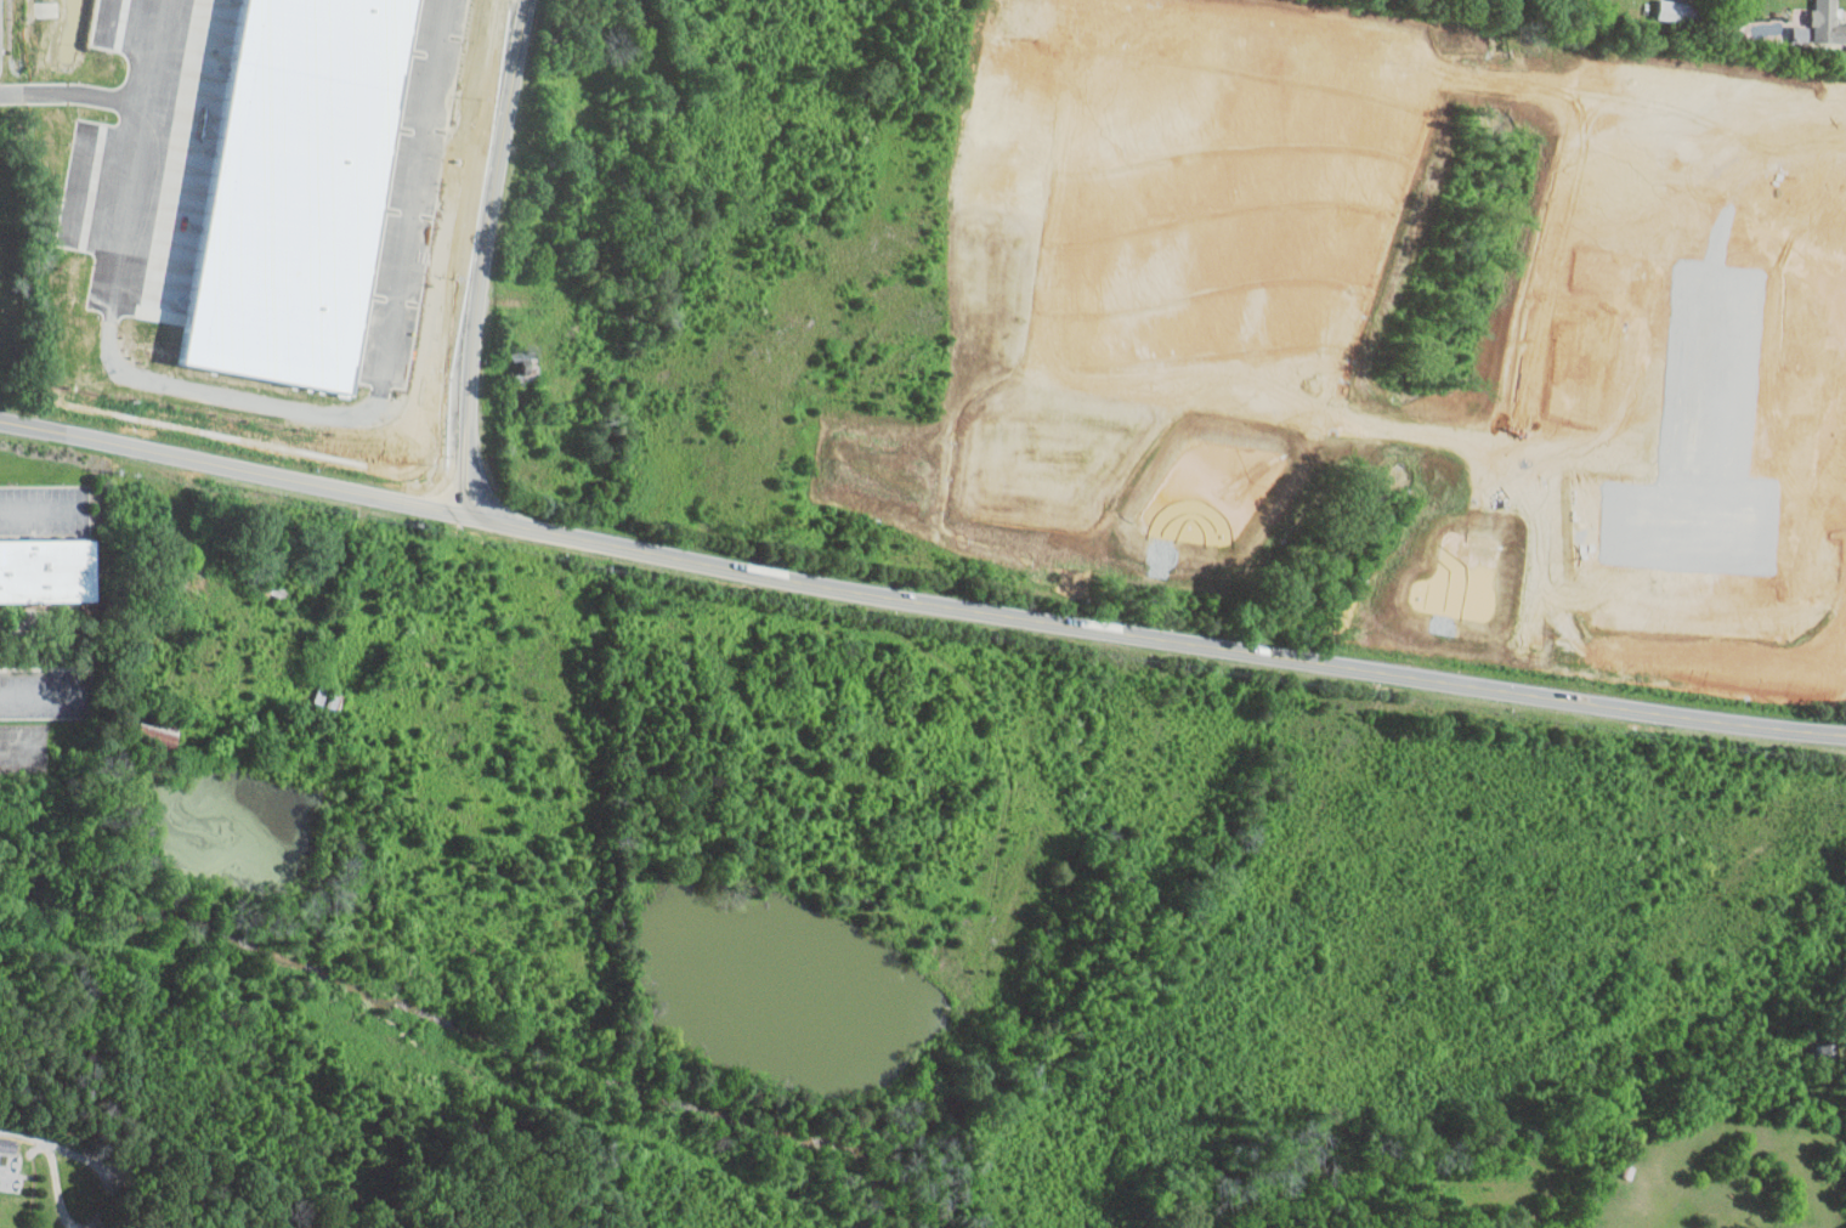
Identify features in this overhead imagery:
building: (1680, 11)
building: (1822, 24)
road: (149, 53)
road: (482, 254)
road: (245, 401)
road: (40, 508)
building: (46, 570)
road: (919, 599)
road: (17, 1132)
road: (44, 1139)
road: (114, 1171)
road: (60, 1189)

